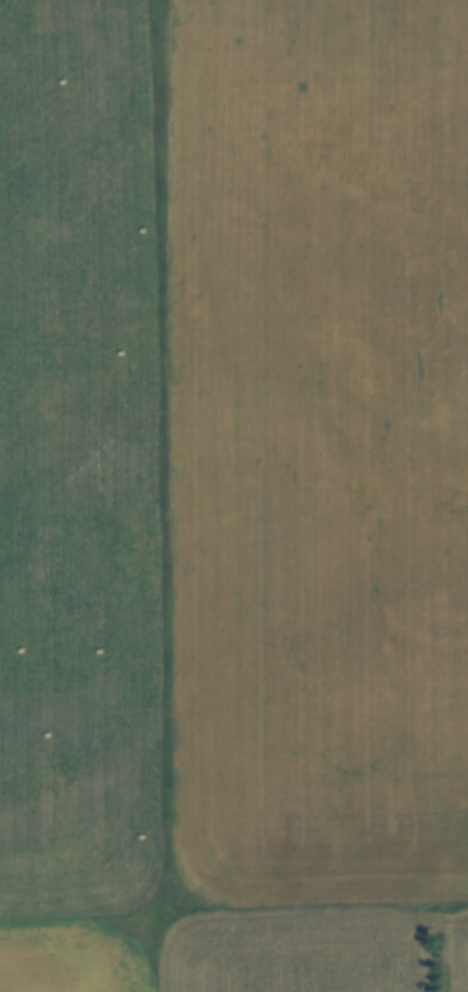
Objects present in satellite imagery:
crop: (68, 954)

